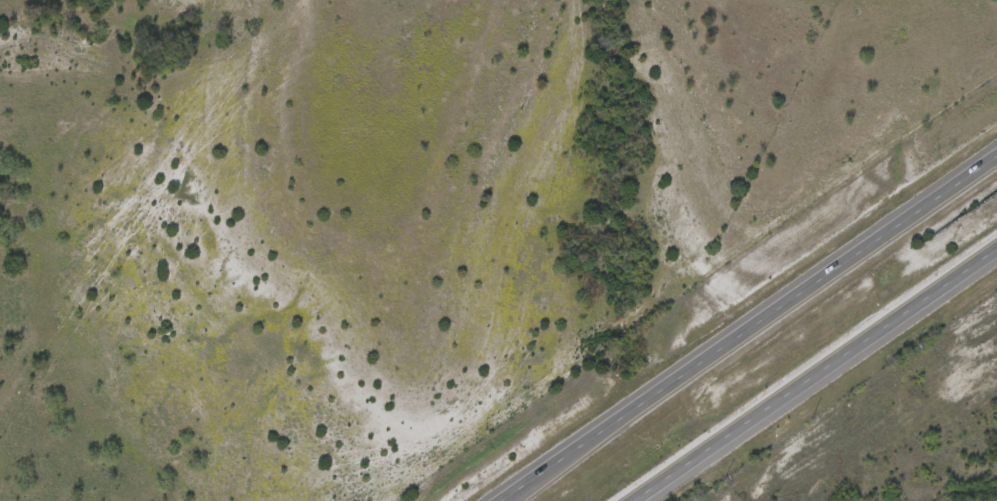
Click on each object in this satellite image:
road: (744, 324)
road: (813, 371)

